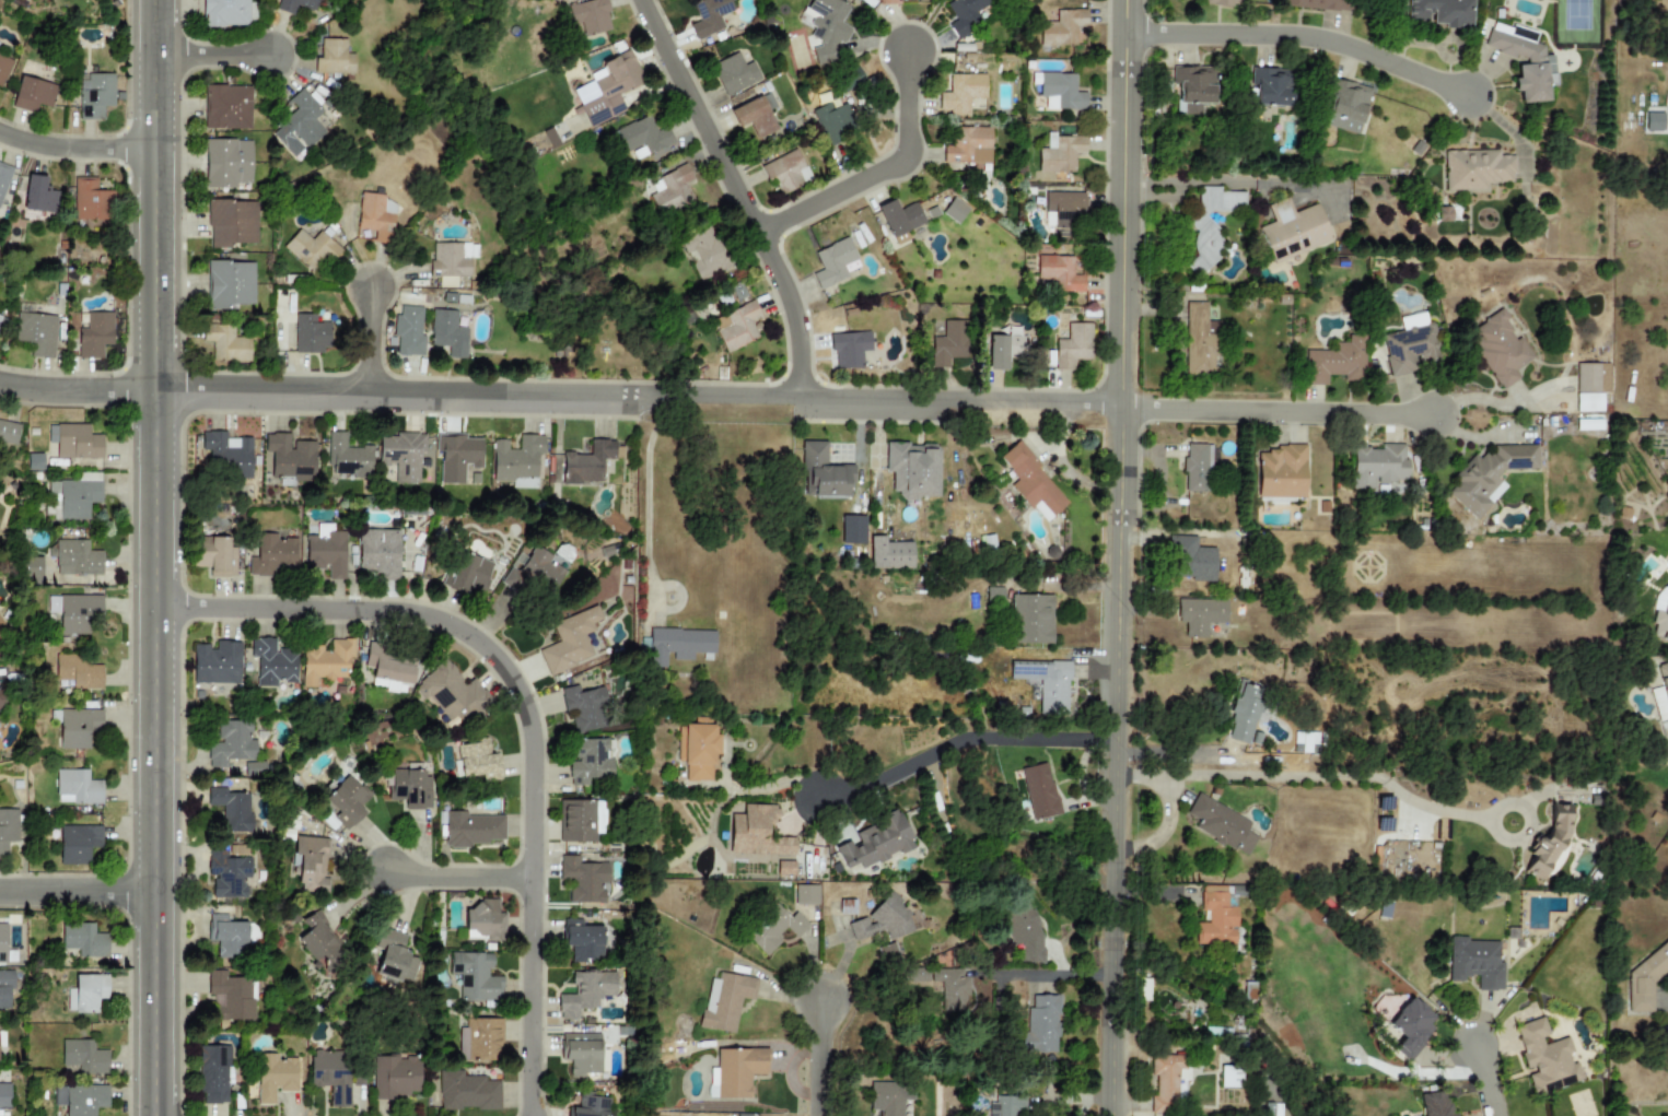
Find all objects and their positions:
building: (887, 2)
building: (1223, 2)
building: (1319, 4)
building: (285, 8)
building: (228, 12)
building: (1439, 12)
building: (965, 15)
building: (709, 16)
building: (588, 17)
road: (1308, 25)
building: (1061, 27)
building: (826, 30)
road: (217, 51)
building: (334, 58)
building: (1535, 63)
building: (3, 68)
building: (734, 73)
building: (611, 87)
building: (1192, 87)
building: (1272, 87)
building: (1058, 91)
building: (960, 93)
building: (32, 94)
building: (94, 94)
building: (1345, 105)
building: (228, 107)
building: (748, 111)
building: (838, 115)
building: (1653, 121)
building: (298, 127)
building: (641, 138)
road: (80, 139)
building: (539, 143)
building: (967, 145)
building: (1059, 153)
building: (228, 164)
road: (883, 164)
building: (1475, 168)
building: (785, 172)
building: (3, 178)
road: (1192, 181)
road: (1294, 184)
road: (744, 192)
building: (38, 195)
building: (90, 200)
building: (954, 210)
building: (1062, 210)
building: (375, 216)
building: (899, 219)
building: (232, 223)
building: (1211, 224)
building: (1292, 231)
building: (312, 249)
building: (704, 254)
building: (451, 261)
building: (832, 262)
building: (1059, 273)
building: (230, 284)
building: (0, 317)
building: (737, 327)
building: (408, 331)
building: (35, 332)
building: (447, 333)
building: (311, 334)
building: (93, 336)
road: (374, 337)
building: (1200, 339)
building: (225, 343)
building: (948, 344)
building: (1073, 345)
building: (1498, 346)
building: (1409, 348)
building: (849, 349)
building: (1004, 351)
building: (1337, 362)
building: (1590, 386)
road: (564, 391)
road: (1491, 404)
road: (1271, 412)
building: (8, 432)
building: (74, 440)
building: (226, 451)
building: (347, 456)
building: (456, 456)
building: (290, 459)
building: (587, 462)
building: (1378, 466)
building: (1195, 468)
building: (913, 469)
building: (823, 473)
building: (1280, 473)
building: (1488, 475)
building: (1031, 482)
building: (77, 497)
road: (648, 504)
building: (852, 529)
building: (377, 550)
building: (326, 552)
building: (888, 554)
building: (272, 555)
building: (75, 557)
road: (156, 557)
building: (217, 557)
road: (1129, 557)
building: (1186, 559)
building: (470, 573)
building: (533, 574)
building: (77, 612)
building: (1031, 619)
building: (1205, 621)
building: (1, 629)
building: (569, 641)
building: (0, 642)
building: (677, 645)
building: (272, 662)
building: (217, 663)
building: (327, 663)
building: (386, 670)
building: (78, 672)
building: (1664, 682)
building: (1045, 683)
building: (452, 693)
building: (1, 698)
road: (525, 706)
building: (584, 707)
building: (1246, 718)
building: (77, 727)
road: (966, 737)
building: (1304, 742)
building: (232, 744)
building: (697, 748)
building: (477, 760)
road: (1325, 777)
road: (761, 786)
building: (77, 787)
building: (1039, 791)
building: (345, 800)
building: (232, 809)
building: (580, 820)
building: (1224, 827)
building: (8, 829)
building: (471, 829)
building: (756, 833)
building: (875, 842)
building: (77, 844)
building: (1552, 847)
building: (310, 862)
building: (789, 867)
building: (229, 874)
road: (457, 876)
building: (583, 879)
road: (78, 890)
building: (1239, 891)
building: (805, 894)
building: (1595, 904)
building: (481, 919)
building: (880, 919)
building: (1217, 920)
building: (772, 928)
building: (1024, 933)
building: (228, 937)
building: (582, 939)
building: (82, 940)
building: (4, 944)
building: (322, 944)
building: (390, 956)
building: (1474, 965)
road: (1053, 976)
building: (1645, 979)
building: (5, 987)
building: (949, 988)
building: (85, 992)
building: (585, 992)
building: (233, 996)
building: (725, 1000)
building: (1040, 1024)
building: (1410, 1029)
building: (479, 1039)
building: (583, 1054)
building: (83, 1057)
road: (824, 1057)
building: (1549, 1059)
building: (737, 1070)
road: (1491, 1071)
building: (214, 1073)
building: (330, 1074)
building: (395, 1076)
building: (1230, 1077)
building: (273, 1078)
building: (1170, 1083)
building: (466, 1091)
building: (4, 1095)
building: (888, 1097)
building: (80, 1099)
building: (1433, 1104)
building: (588, 1106)
building: (1007, 1106)
building: (1268, 1109)

